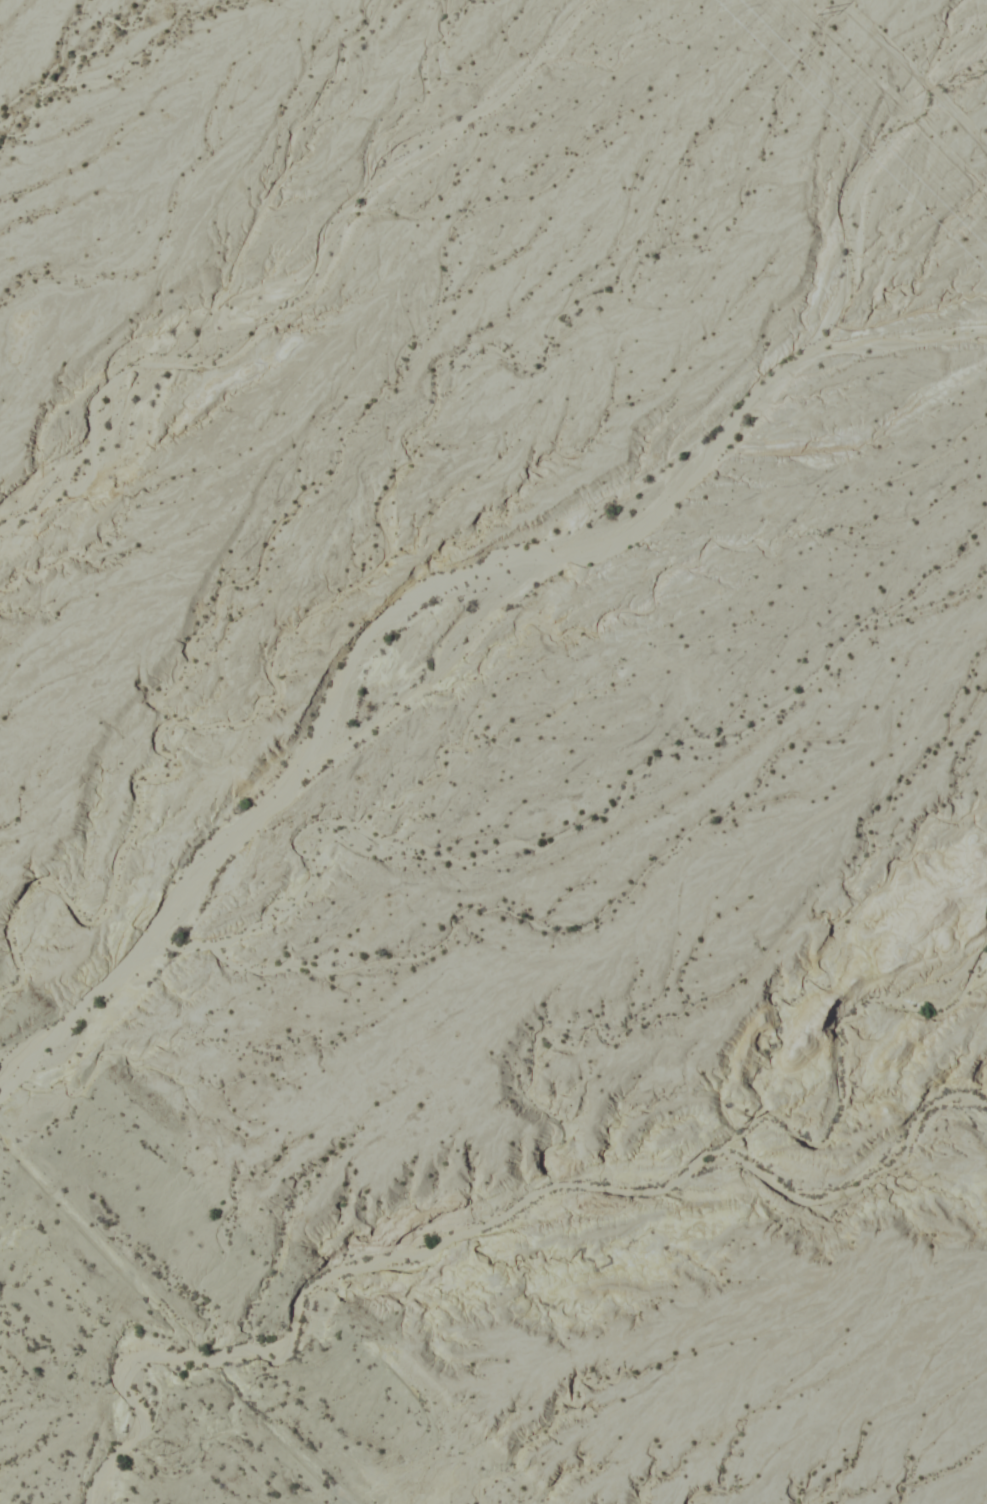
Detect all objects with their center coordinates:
power tower: (825, 11)

